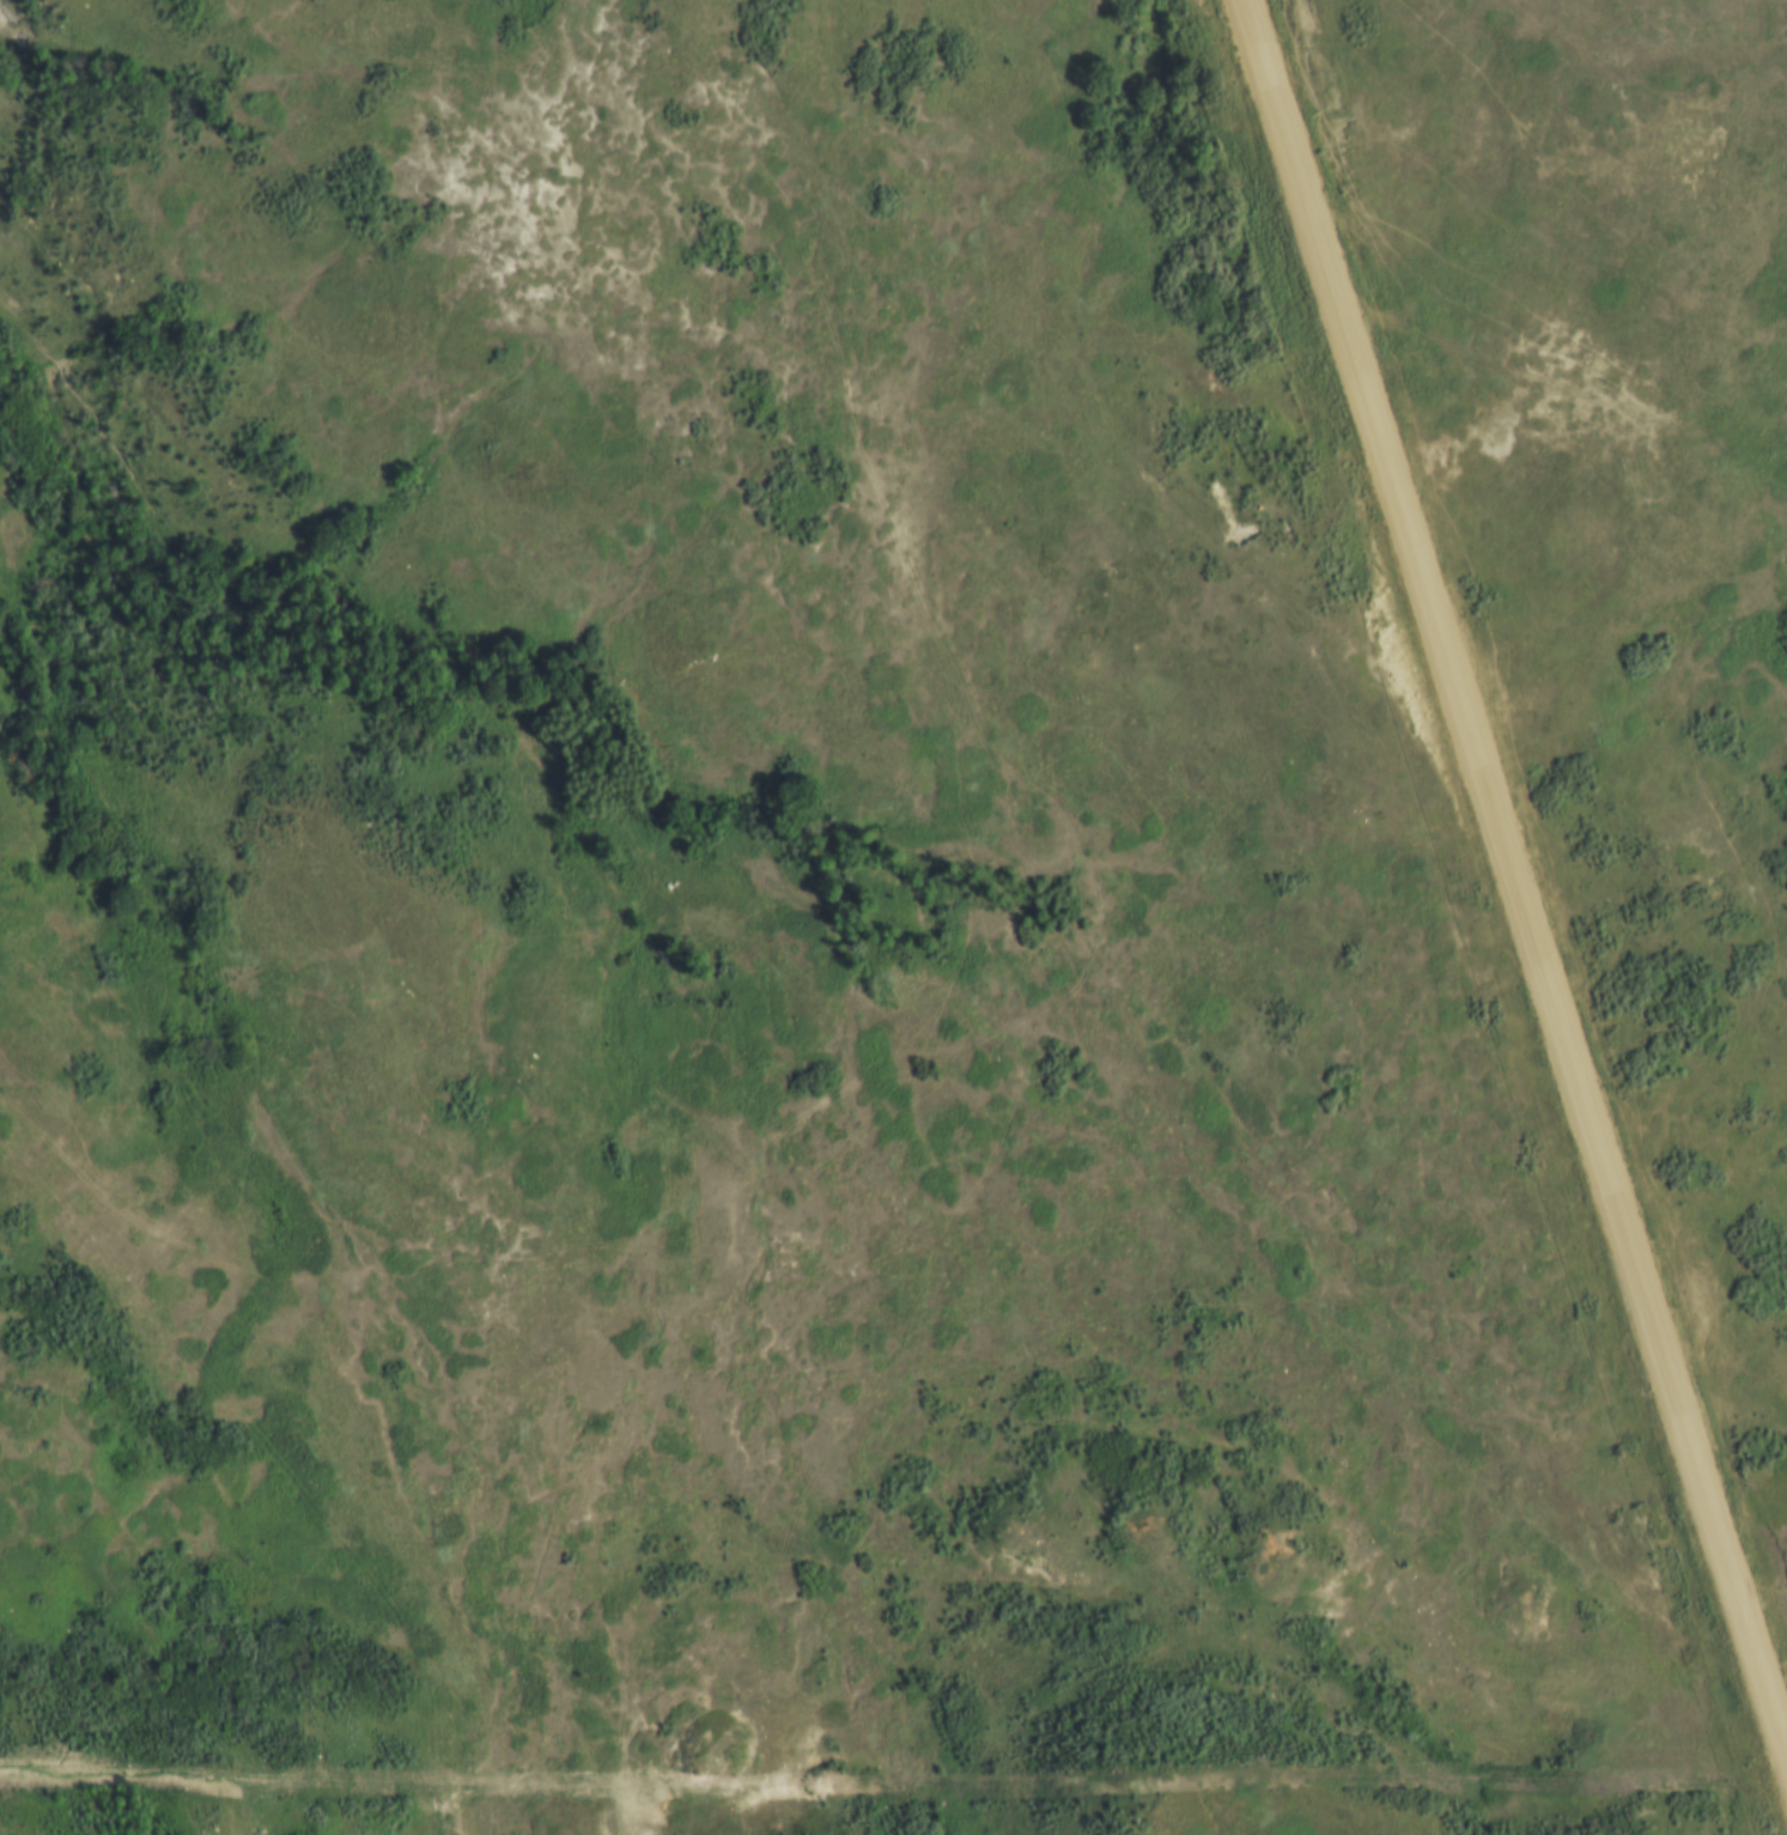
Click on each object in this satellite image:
road: (1515, 880)

